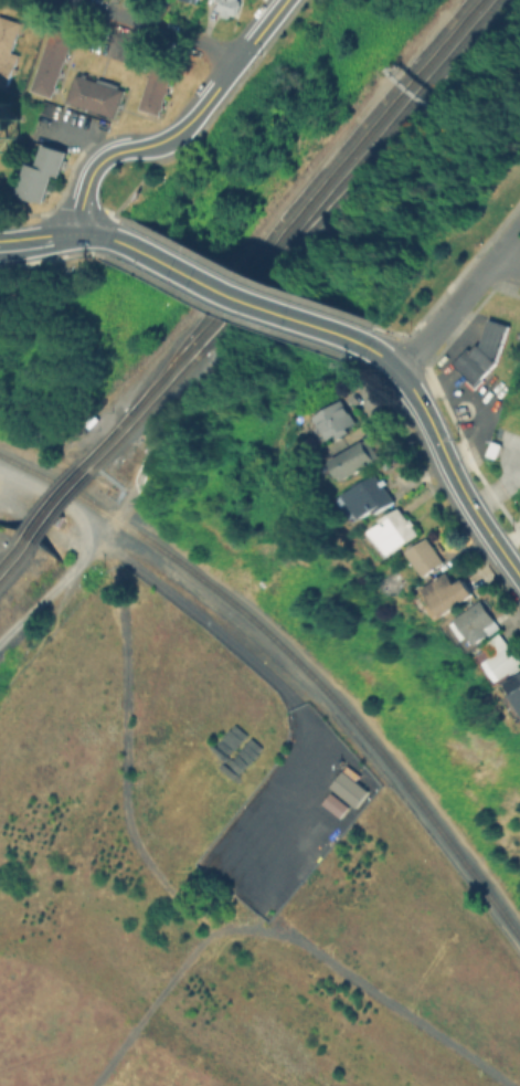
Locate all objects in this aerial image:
building: (192, 0)
building: (195, 0)
building: (231, 7)
road: (153, 29)
building: (8, 49)
building: (54, 62)
building: (158, 91)
building: (97, 95)
road: (209, 99)
road: (57, 118)
building: (7, 125)
parking lot: (62, 127)
railway: (385, 131)
road: (82, 139)
building: (44, 172)
road: (83, 193)
railway: (293, 198)
railway: (279, 233)
railway: (287, 233)
road: (54, 238)
road: (508, 266)
road: (244, 293)
road: (460, 301)
building: (519, 355)
building: (484, 357)
road: (388, 361)
building: (335, 421)
building: (358, 458)
road: (455, 474)
building: (370, 497)
railway: (51, 498)
railway: (61, 505)
road: (42, 531)
building: (395, 531)
railway: (10, 546)
road: (93, 548)
railway: (14, 557)
building: (427, 557)
road: (156, 580)
building: (447, 592)
building: (475, 622)
building: (501, 657)
railway: (294, 658)
road: (342, 693)
building: (516, 697)
building: (351, 785)
road: (287, 789)
building: (337, 805)
building: (309, 834)
building: (309, 863)
road: (285, 935)

